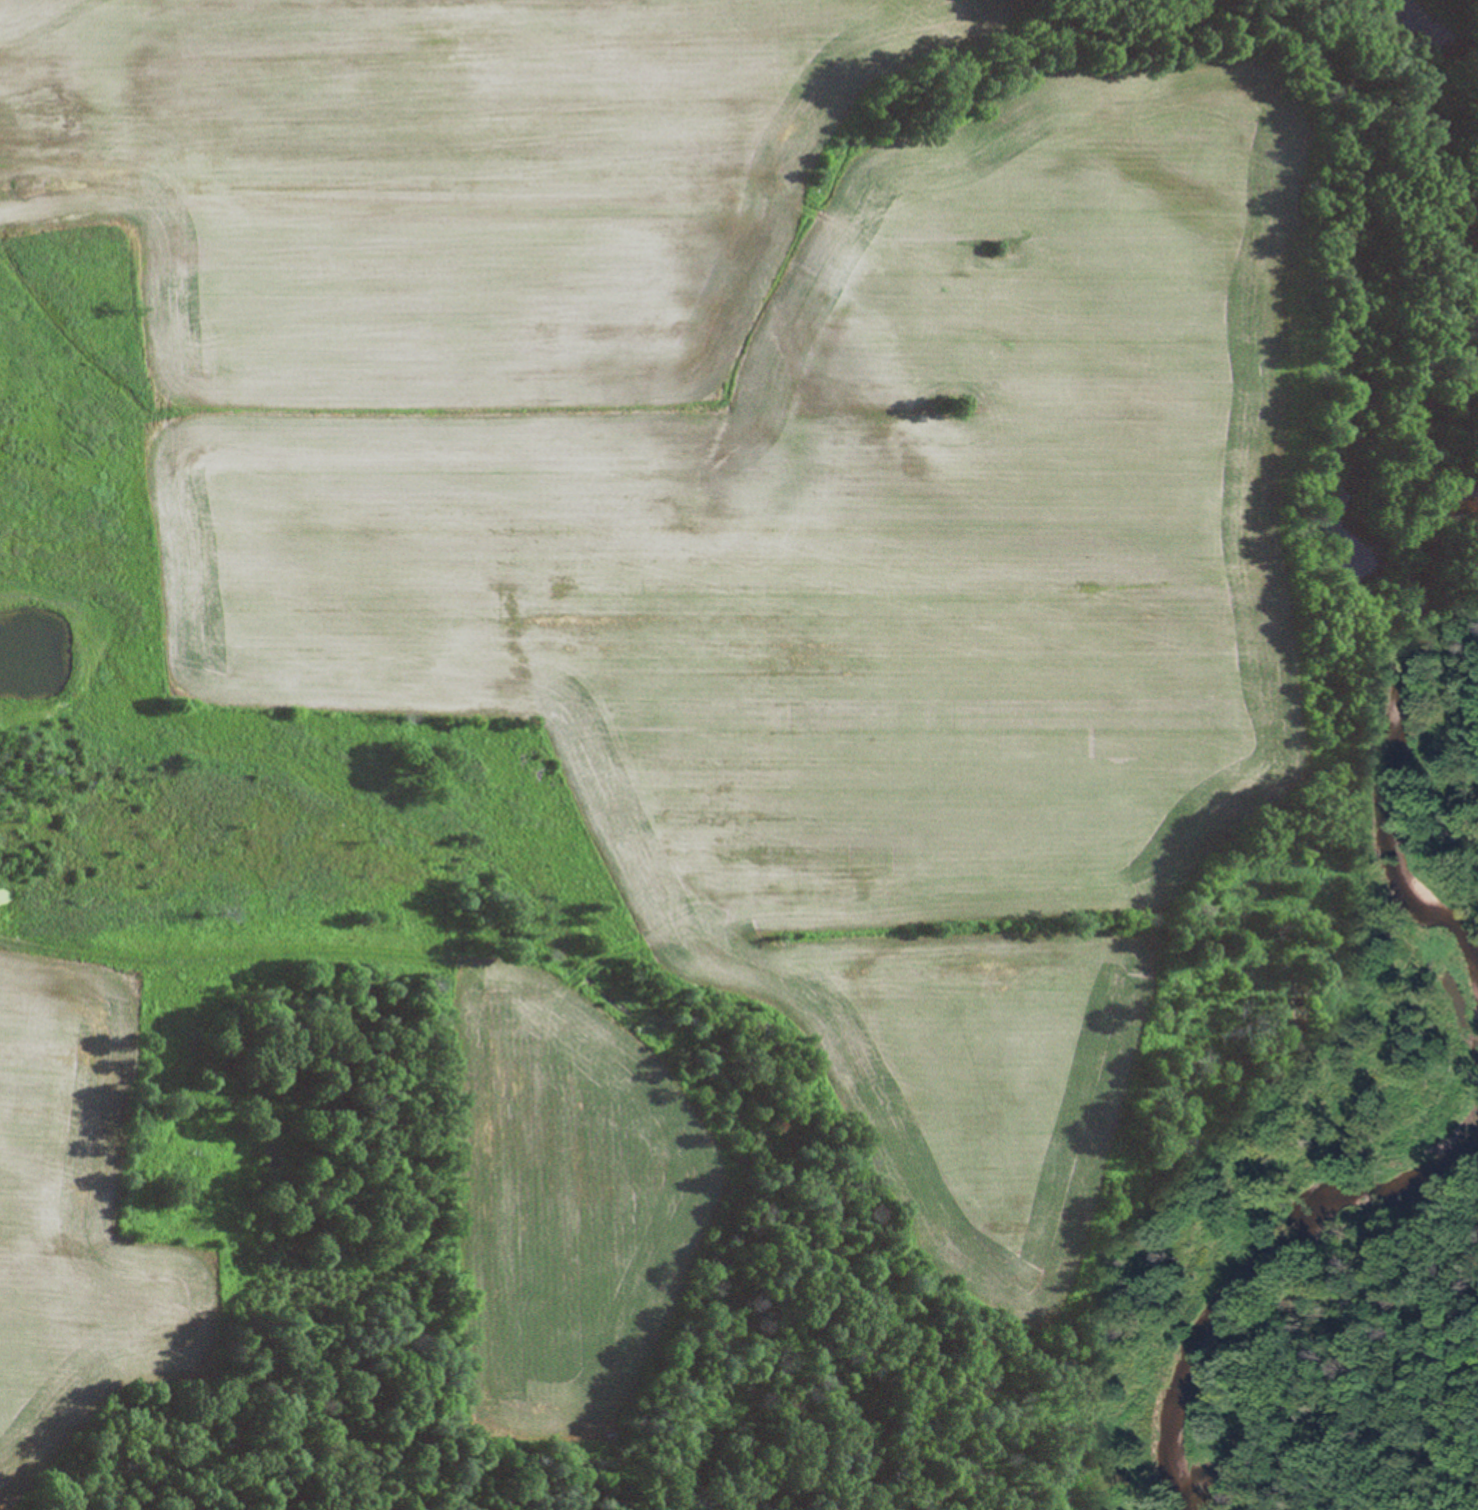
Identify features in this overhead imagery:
river: (1452, 20)
road: (67, 214)
river: (1389, 698)
river: (1449, 943)
river: (1471, 1102)
river: (1293, 1237)
river: (1226, 1479)

